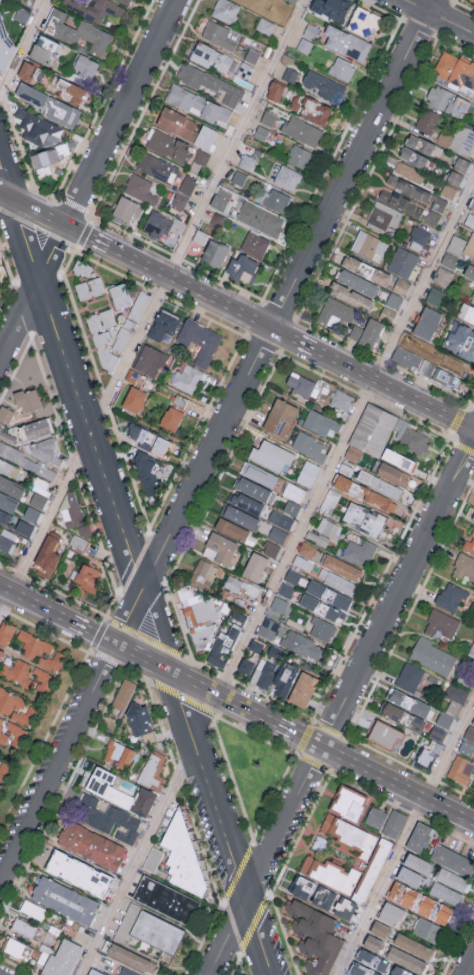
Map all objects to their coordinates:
building: (128, 1)
building: (2, 3)
building: (94, 8)
building: (331, 8)
building: (225, 10)
road: (439, 16)
building: (364, 21)
building: (265, 25)
building: (76, 31)
building: (221, 34)
building: (346, 43)
building: (304, 45)
road: (23, 47)
building: (5, 49)
building: (44, 49)
building: (252, 55)
building: (211, 56)
building: (85, 65)
building: (342, 68)
building: (456, 68)
building: (29, 71)
building: (290, 74)
building: (210, 82)
building: (323, 86)
building: (69, 89)
building: (275, 90)
building: (30, 94)
building: (446, 100)
building: (197, 104)
building: (310, 108)
building: (62, 113)
building: (268, 117)
building: (427, 120)
building: (177, 122)
building: (301, 130)
building: (39, 132)
building: (260, 132)
building: (204, 136)
building: (457, 138)
building: (421, 144)
building: (168, 145)
building: (299, 155)
building: (414, 157)
building: (199, 159)
building: (247, 162)
building: (45, 163)
building: (461, 163)
building: (156, 167)
building: (409, 171)
building: (238, 177)
building: (287, 177)
building: (454, 177)
road: (89, 179)
road: (4, 185)
building: (408, 187)
building: (140, 188)
building: (184, 191)
building: (448, 191)
road: (4, 196)
building: (473, 196)
building: (220, 199)
building: (273, 199)
building: (439, 203)
building: (407, 205)
building: (472, 206)
building: (127, 208)
road: (38, 212)
building: (383, 216)
building: (260, 219)
building: (469, 219)
building: (163, 227)
road: (88, 235)
building: (200, 236)
building: (418, 238)
building: (255, 244)
building: (456, 244)
building: (369, 245)
building: (469, 247)
building: (214, 252)
building: (449, 259)
building: (402, 261)
building: (241, 267)
building: (366, 269)
building: (82, 270)
building: (469, 271)
building: (442, 276)
building: (357, 282)
road: (190, 286)
building: (401, 286)
building: (81, 289)
building: (350, 295)
road: (157, 296)
building: (435, 296)
building: (121, 297)
building: (473, 297)
building: (394, 300)
building: (138, 307)
building: (336, 311)
building: (387, 313)
building: (466, 313)
building: (121, 319)
building: (427, 322)
building: (163, 324)
building: (130, 326)
building: (366, 332)
road: (293, 338)
building: (122, 339)
building: (102, 340)
building: (200, 340)
building: (408, 351)
building: (149, 360)
building: (452, 363)
building: (439, 374)
building: (135, 377)
building: (188, 378)
building: (299, 383)
road: (394, 388)
building: (342, 399)
building: (180, 400)
building: (28, 401)
building: (136, 401)
building: (6, 416)
building: (280, 417)
building: (173, 420)
building: (320, 422)
building: (0, 428)
building: (373, 429)
building: (35, 431)
building: (137, 433)
road: (346, 435)
building: (411, 437)
building: (7, 438)
road: (215, 438)
building: (309, 445)
building: (162, 448)
building: (47, 452)
building: (353, 453)
building: (13, 455)
building: (272, 456)
building: (399, 459)
building: (6, 466)
building: (44, 472)
building: (144, 472)
building: (308, 473)
building: (258, 474)
building: (393, 474)
building: (379, 484)
building: (11, 486)
building: (41, 486)
building: (252, 488)
building: (293, 492)
building: (365, 493)
building: (38, 500)
building: (7, 502)
building: (245, 502)
building: (291, 507)
building: (31, 513)
building: (4, 516)
building: (76, 517)
building: (241, 517)
building: (473, 518)
building: (280, 519)
building: (364, 519)
building: (24, 527)
building: (329, 528)
building: (231, 529)
building: (277, 534)
building: (317, 537)
building: (7, 539)
building: (469, 544)
building: (219, 547)
building: (270, 548)
building: (306, 549)
building: (359, 552)
building: (46, 557)
building: (302, 562)
building: (255, 566)
building: (342, 567)
building: (464, 568)
building: (204, 573)
building: (293, 576)
building: (88, 579)
building: (337, 581)
building: (240, 586)
road: (138, 587)
building: (286, 590)
building: (328, 594)
building: (451, 596)
road: (5, 603)
road: (34, 603)
building: (278, 607)
building: (321, 608)
building: (198, 616)
building: (238, 617)
building: (442, 624)
building: (268, 628)
building: (321, 629)
road: (92, 631)
building: (5, 632)
building: (33, 644)
building: (255, 645)
building: (303, 645)
building: (222, 647)
building: (472, 649)
building: (1, 653)
building: (433, 656)
building: (50, 661)
building: (245, 666)
building: (26, 674)
building: (409, 676)
building: (274, 677)
road: (195, 683)
building: (303, 691)
building: (455, 698)
building: (121, 699)
building: (407, 701)
building: (14, 707)
road: (341, 707)
building: (403, 717)
building: (444, 719)
building: (139, 720)
building: (473, 723)
building: (1, 725)
building: (16, 732)
building: (437, 733)
road: (300, 734)
building: (386, 736)
building: (468, 742)
building: (118, 754)
building: (427, 756)
building: (3, 768)
park: (246, 772)
building: (459, 773)
building: (153, 774)
building: (0, 782)
road: (398, 783)
building: (143, 802)
building: (349, 804)
building: (107, 818)
building: (376, 819)
building: (393, 825)
road: (404, 836)
building: (420, 838)
building: (91, 845)
building: (183, 858)
building: (153, 859)
building: (372, 859)
road: (137, 860)
building: (452, 861)
building: (417, 865)
building: (78, 873)
building: (410, 879)
building: (452, 880)
building: (313, 893)
building: (402, 894)
building: (445, 895)
building: (64, 900)
building: (166, 900)
building: (32, 909)
building: (434, 910)
building: (391, 914)
building: (379, 929)
building: (427, 929)
building: (27, 930)
building: (158, 933)
building: (314, 937)
building: (372, 943)
building: (413, 946)
building: (16, 948)
building: (61, 959)
building: (131, 959)
building: (406, 960)
building: (373, 961)
road: (470, 967)
building: (364, 971)
building: (399, 971)
building: (126, 972)
building: (95, 973)

